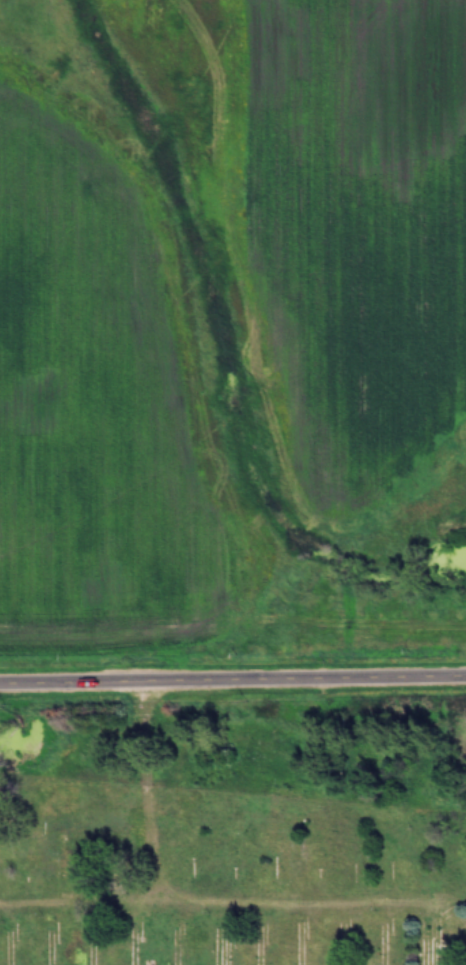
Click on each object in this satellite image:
road: (232, 680)
building: (71, 853)
road: (222, 912)
building: (430, 943)
building: (384, 944)

